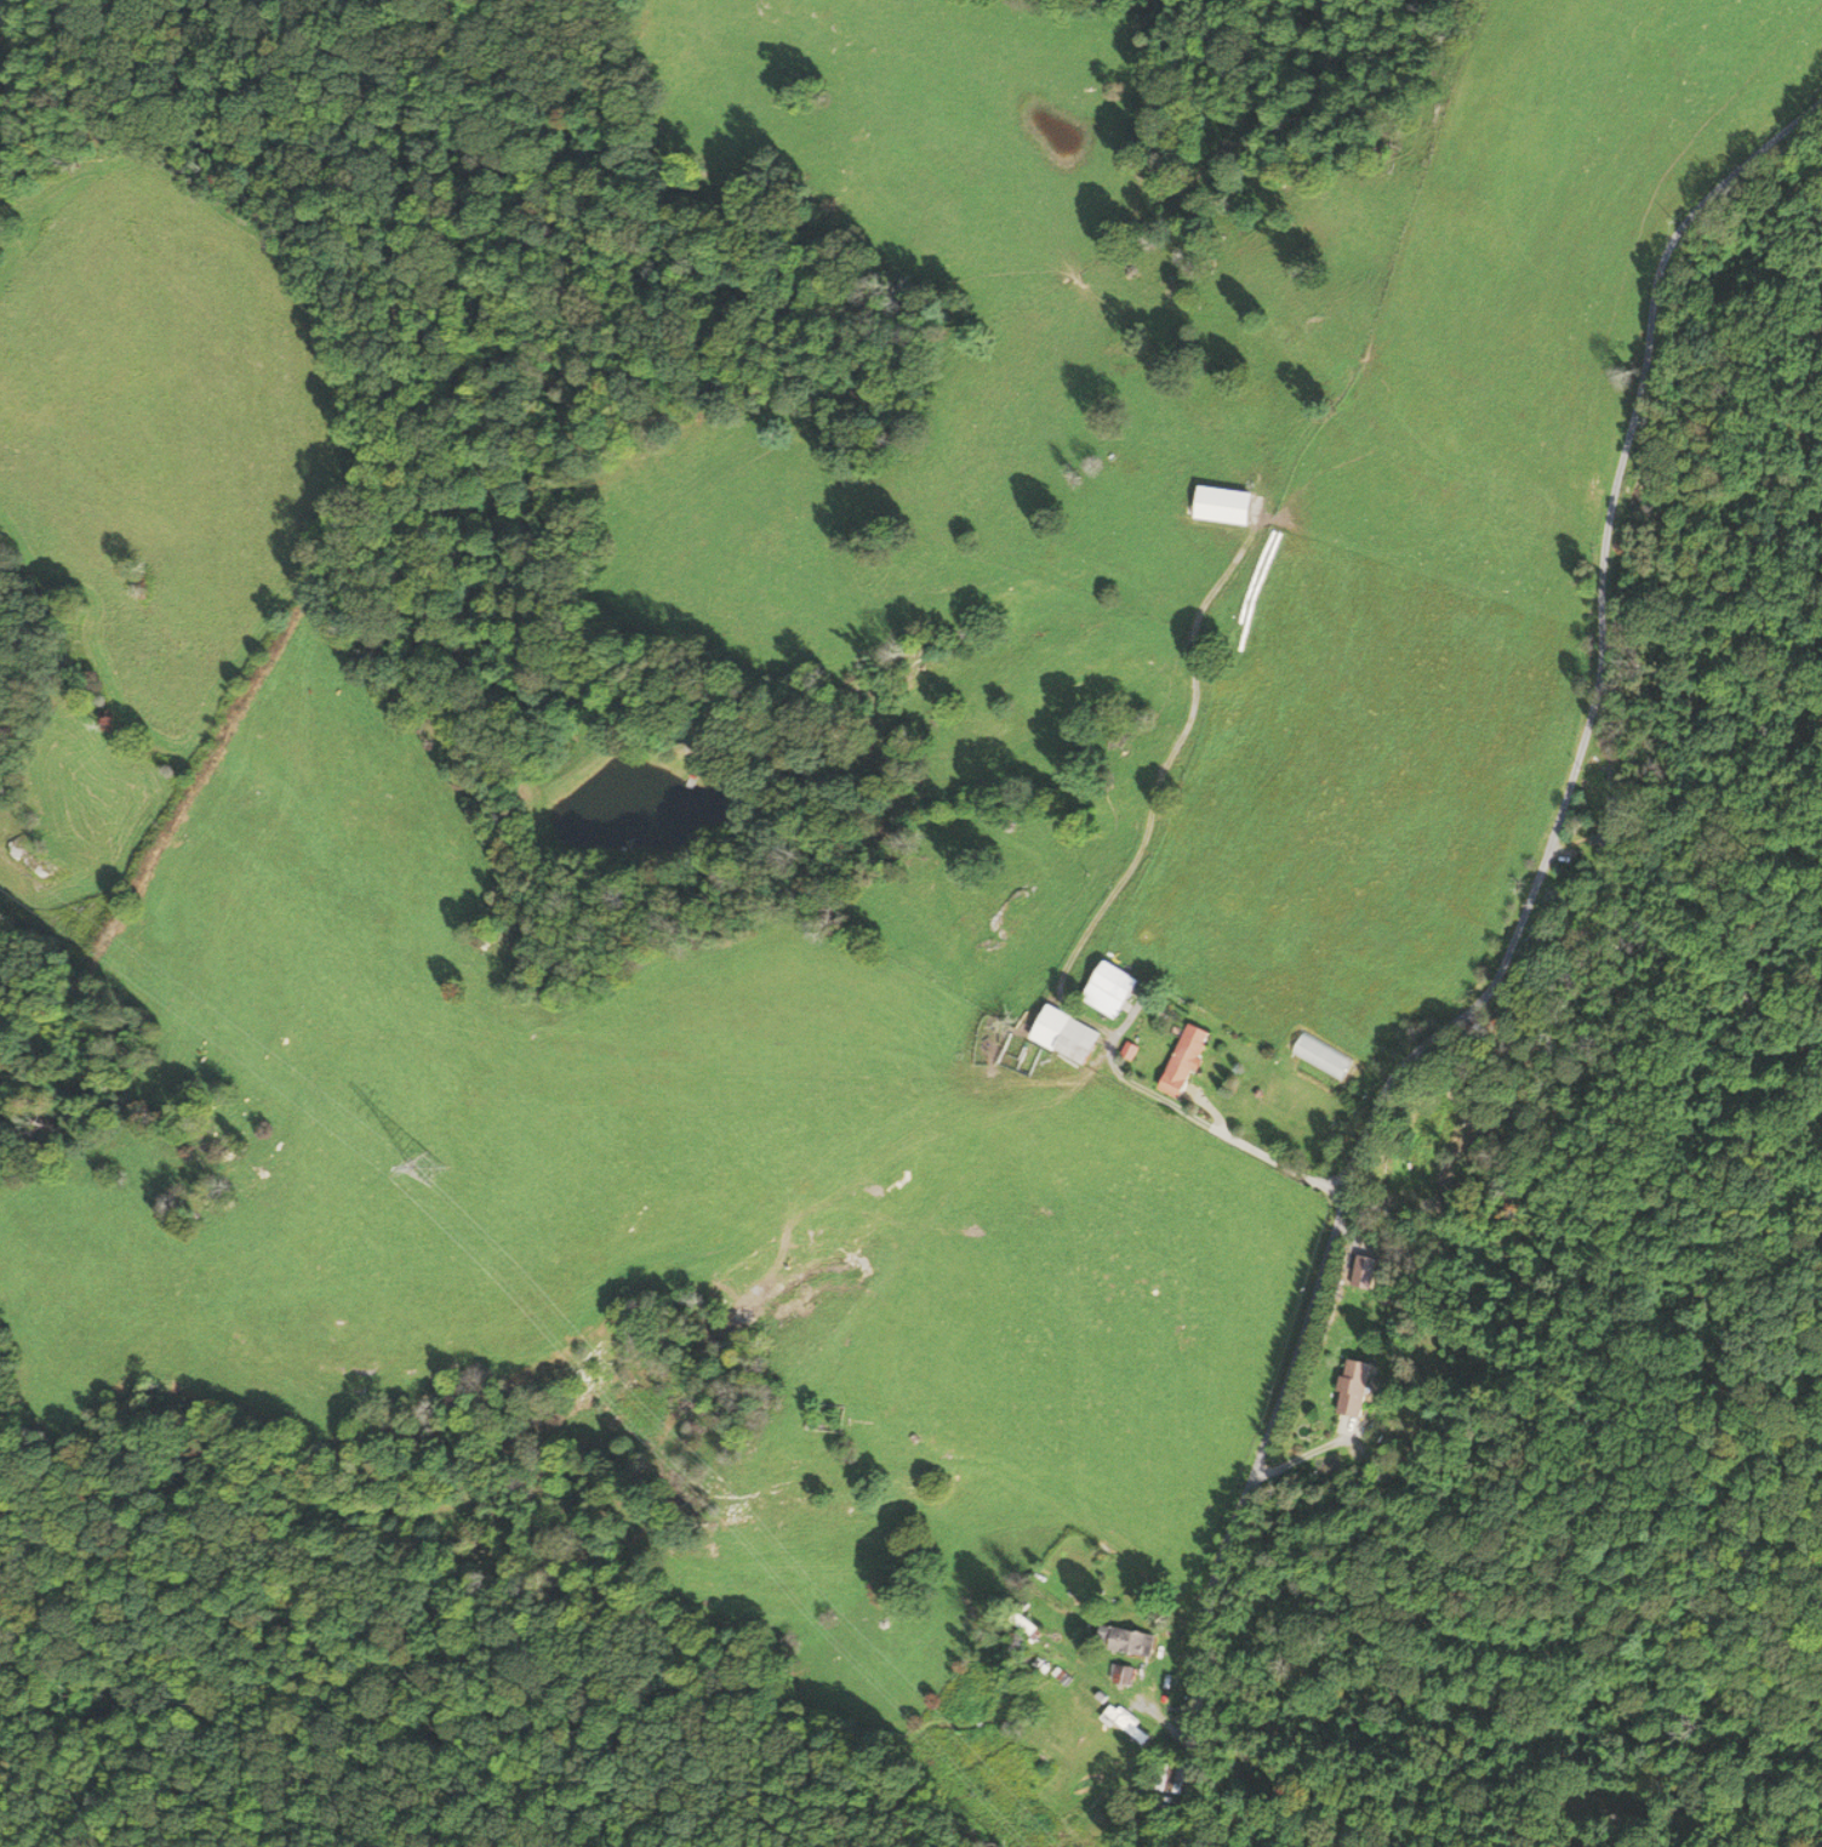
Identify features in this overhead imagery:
building: (1229, 504)
building: (1607, 840)
road: (1502, 974)
building: (1113, 990)
building: (1075, 1038)
building: (1188, 1060)
power tower: (434, 1172)
building: (1358, 1385)
building: (1133, 1641)
building: (1121, 1674)
building: (1127, 1723)

